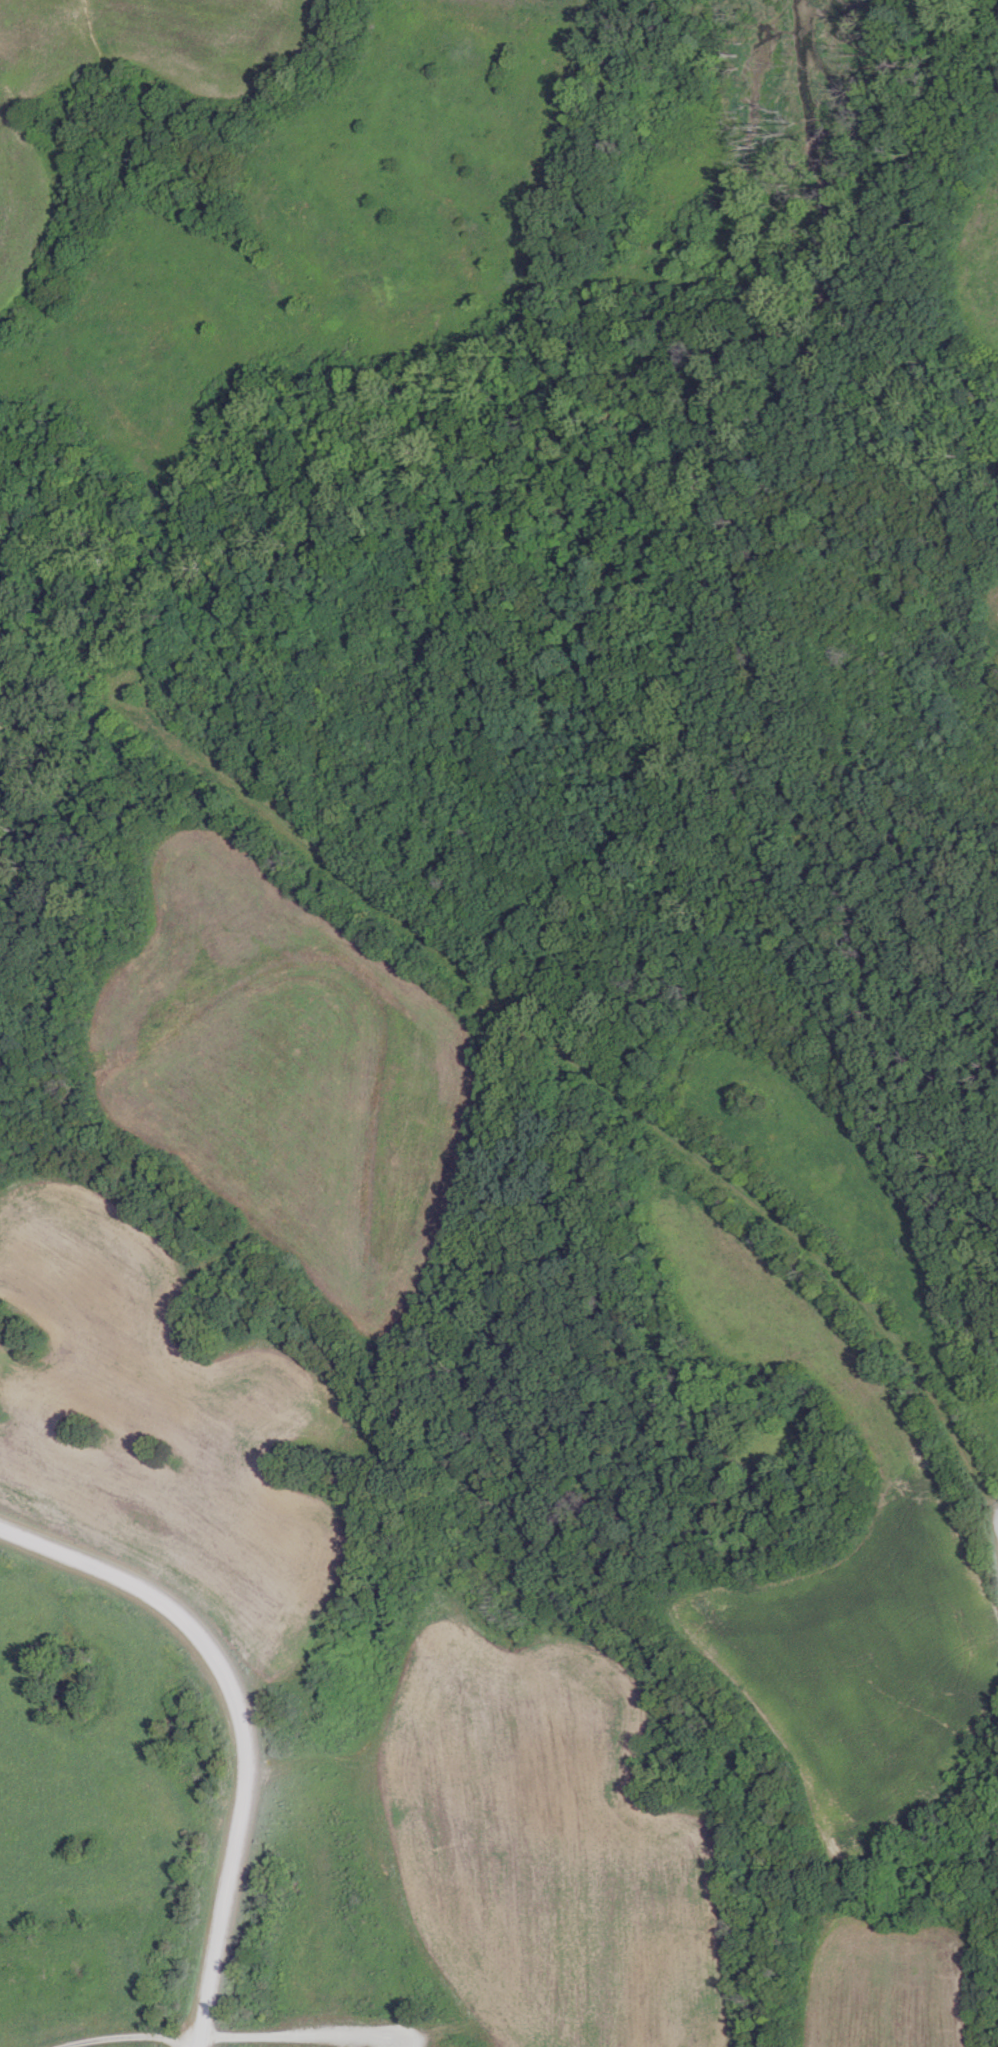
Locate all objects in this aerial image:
road: (695, 468)
road: (9, 612)
road: (592, 1069)
road: (239, 1723)
road: (243, 2035)

